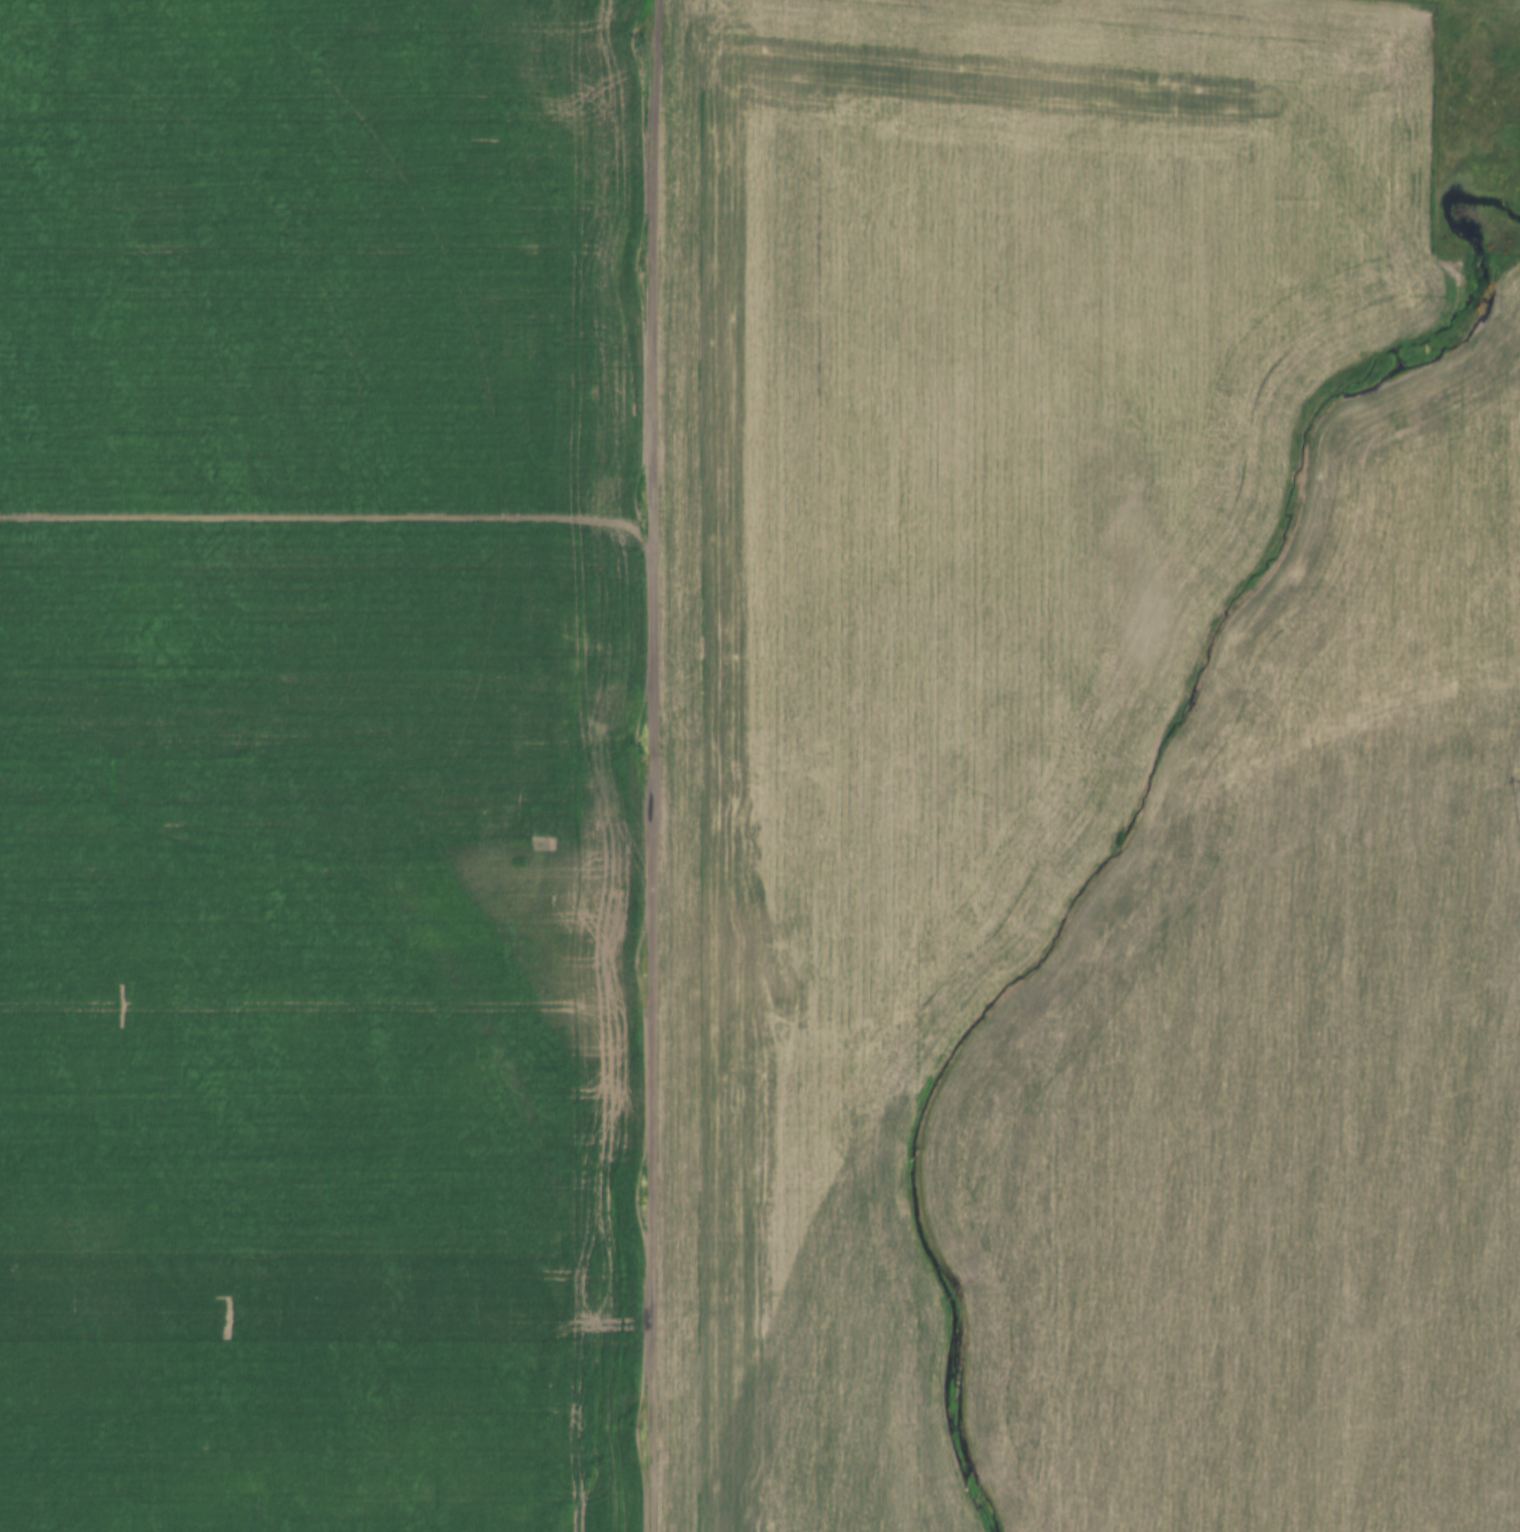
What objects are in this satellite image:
road: (663, 766)

